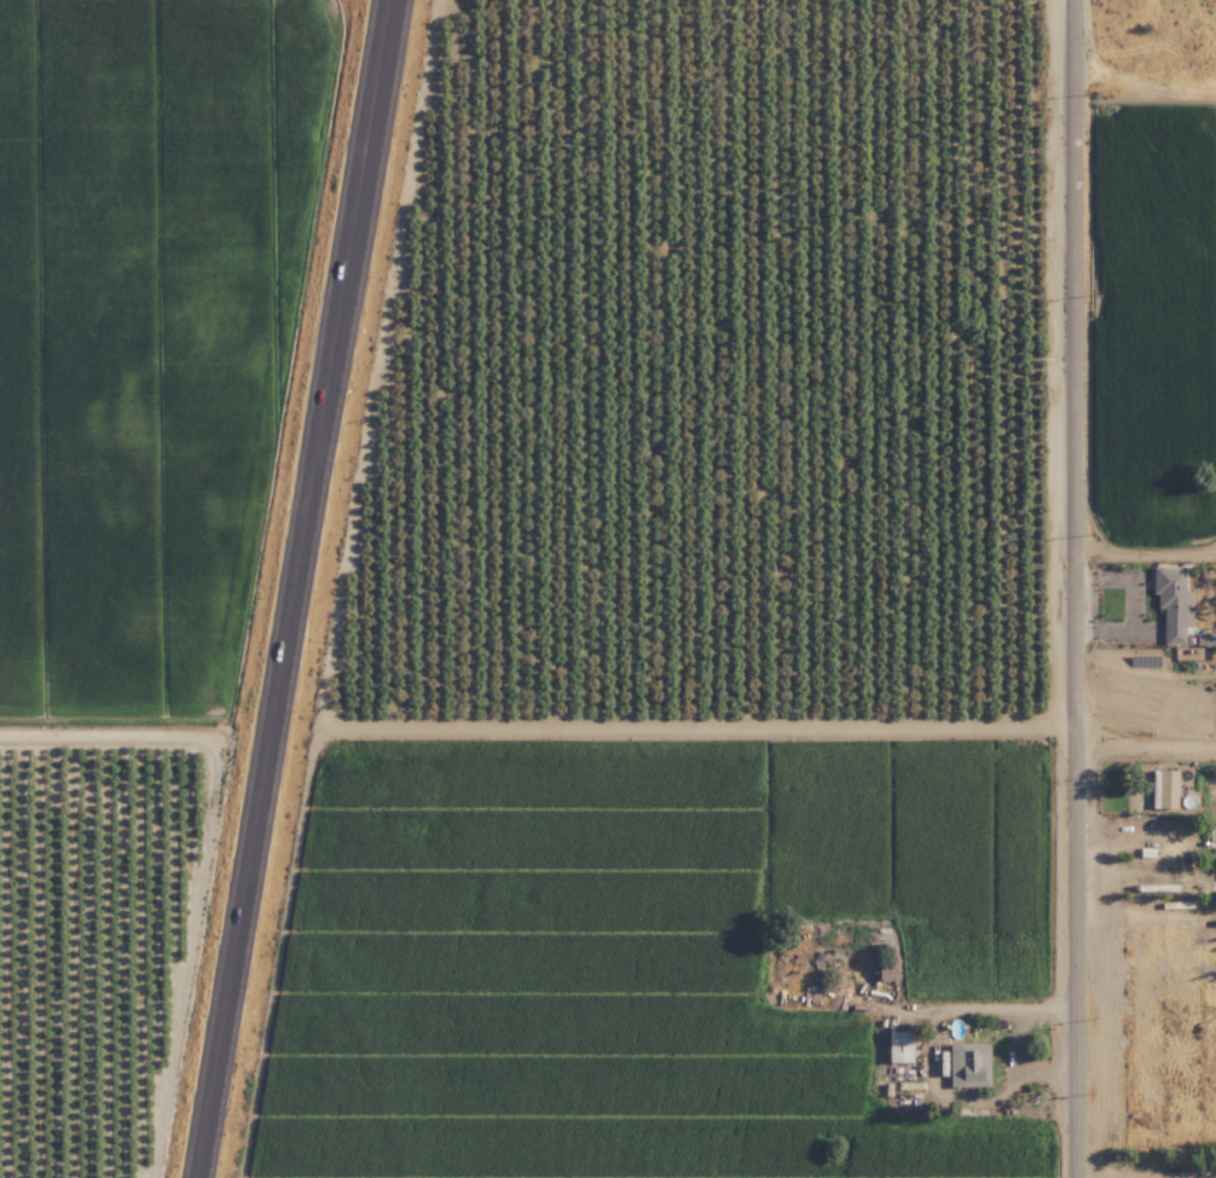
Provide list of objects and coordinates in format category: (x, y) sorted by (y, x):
crop: (154, 337)
road: (295, 588)
road: (1076, 588)
building: (1175, 602)
road: (1146, 741)
building: (1168, 789)
crop: (97, 938)
crop: (672, 959)
building: (902, 1046)
building: (971, 1063)

